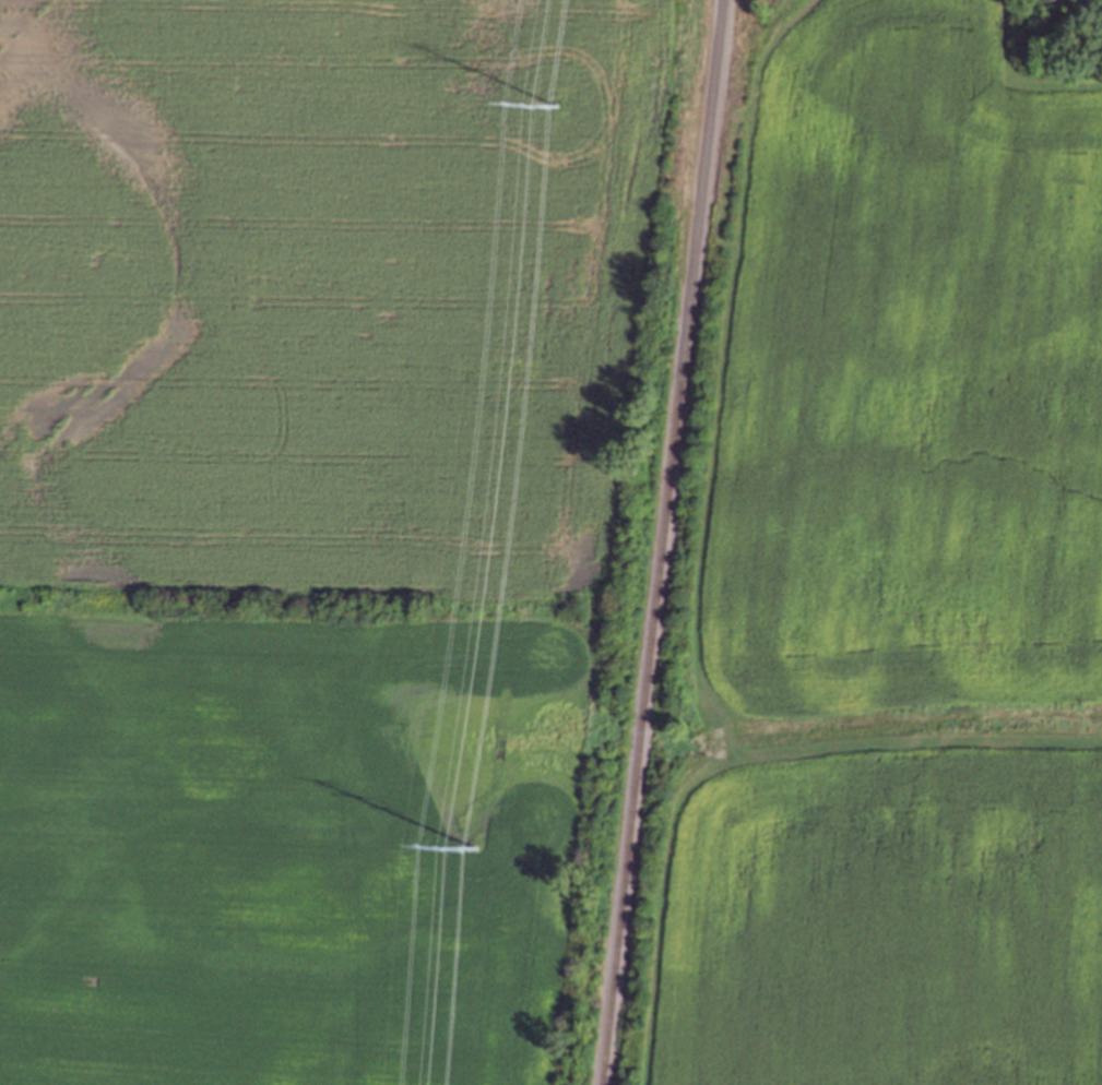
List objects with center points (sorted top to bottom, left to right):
power tower: (555, 106)
crop: (320, 289)
crop: (912, 379)
railway: (660, 541)
power tower: (474, 839)
crop: (890, 923)

